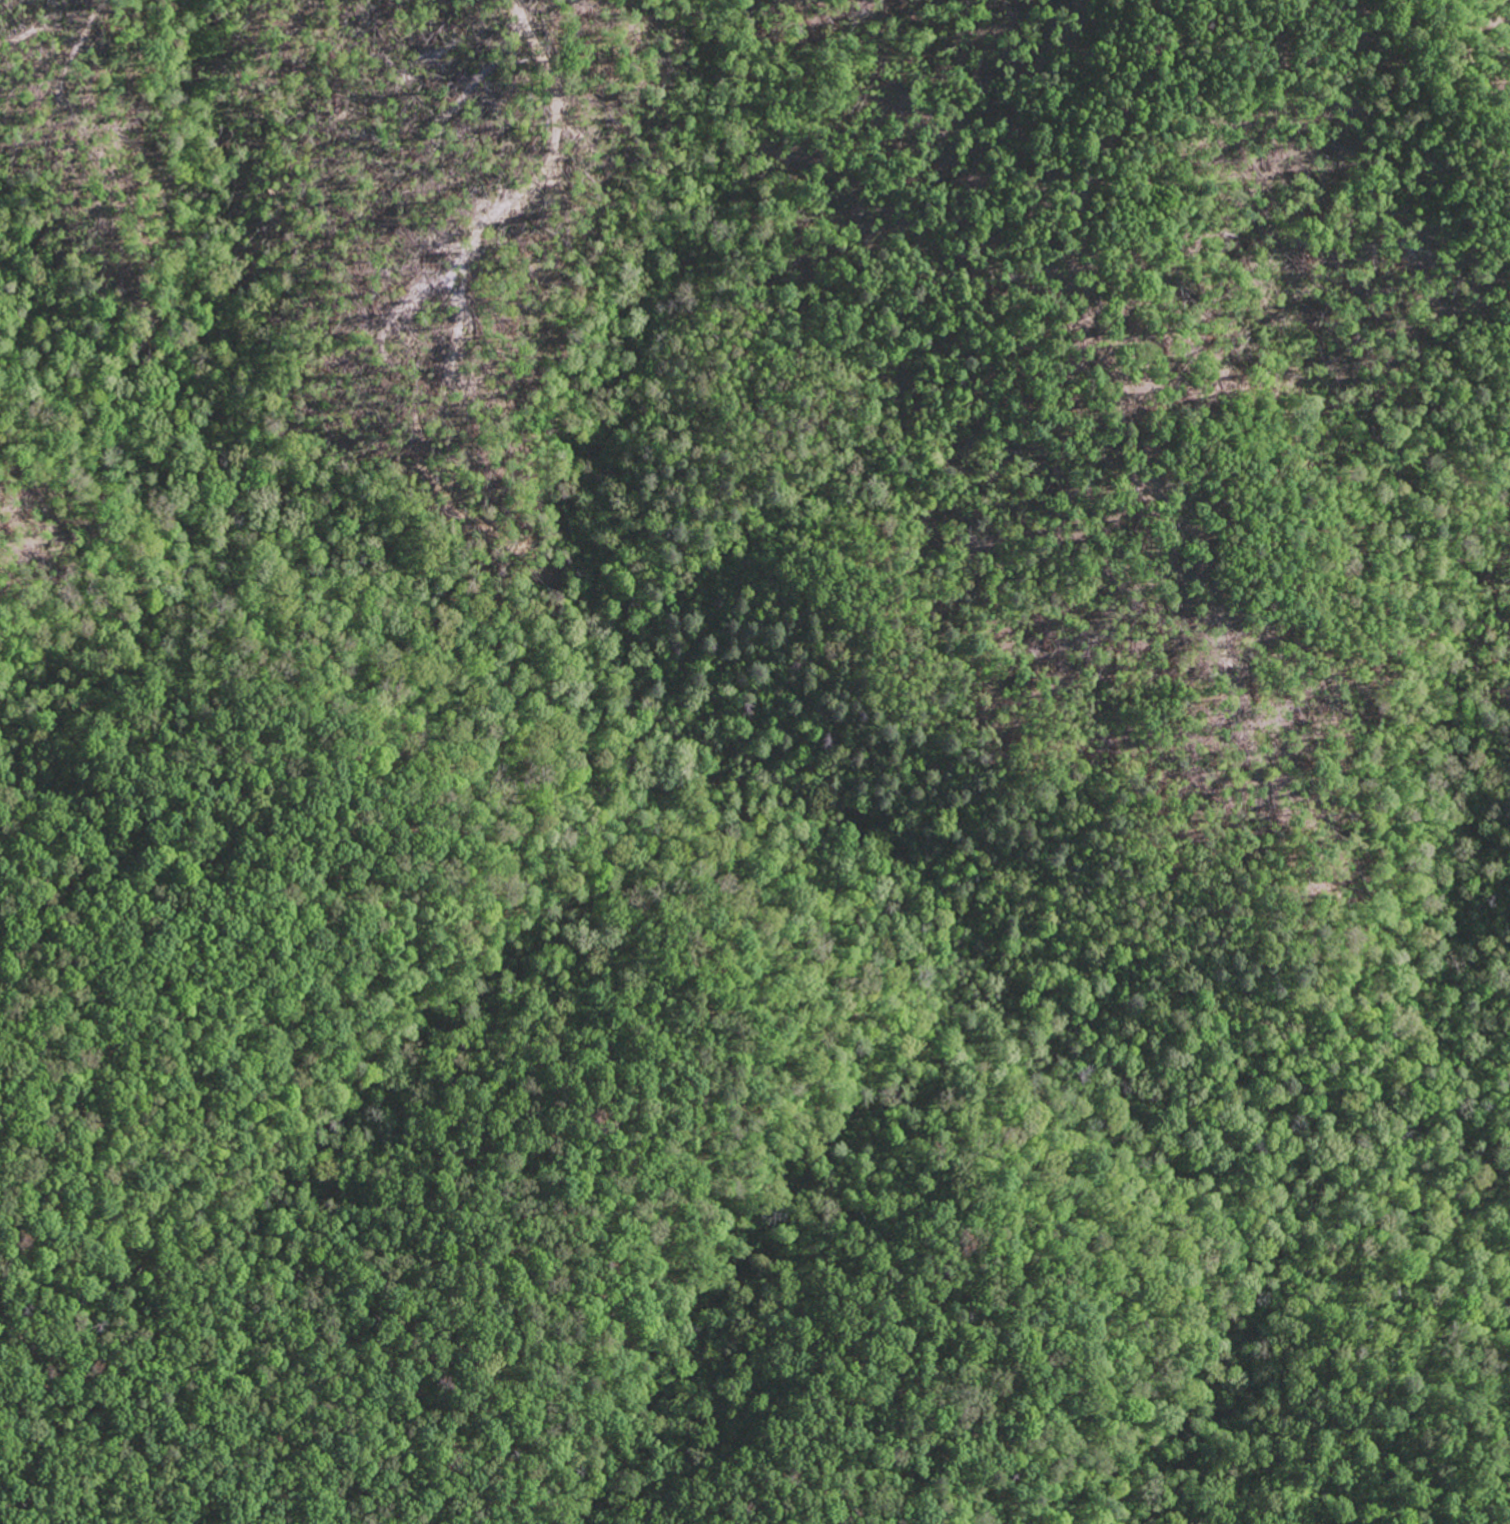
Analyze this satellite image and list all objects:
road: (60, 1416)

